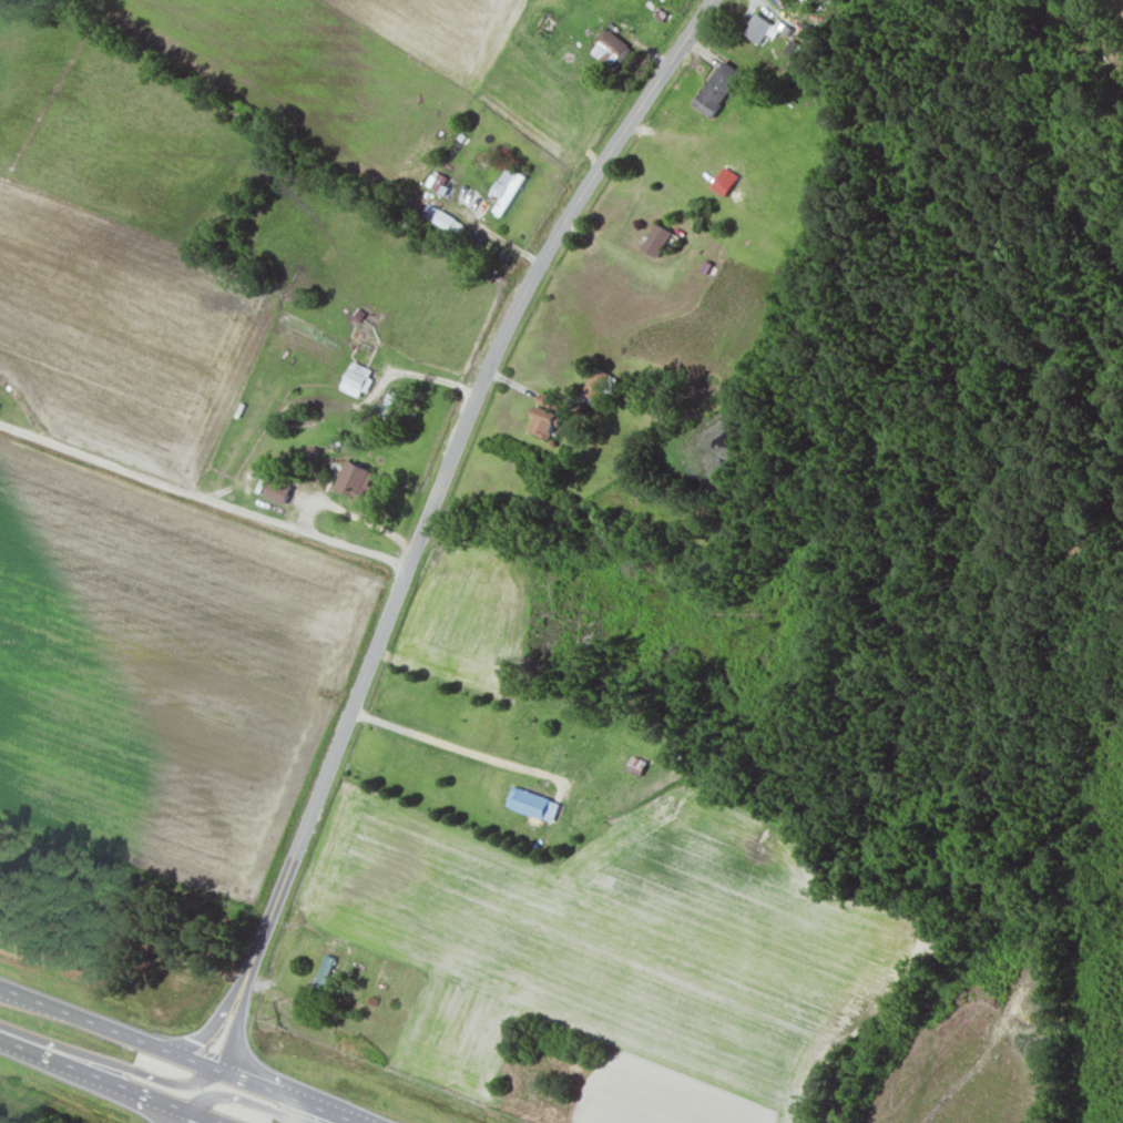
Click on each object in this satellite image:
building: (755, 27)
building: (609, 47)
building: (715, 88)
building: (504, 187)
building: (432, 212)
building: (655, 238)
building: (356, 378)
building: (594, 382)
building: (544, 398)
building: (542, 421)
road: (443, 476)
building: (353, 480)
building: (275, 490)
road: (203, 494)
building: (636, 766)
building: (535, 806)
building: (321, 978)
road: (237, 991)
building: (316, 1044)
road: (178, 1054)
road: (108, 1061)
road: (112, 1081)
road: (251, 1101)
road: (187, 1116)
building: (520, 1119)

